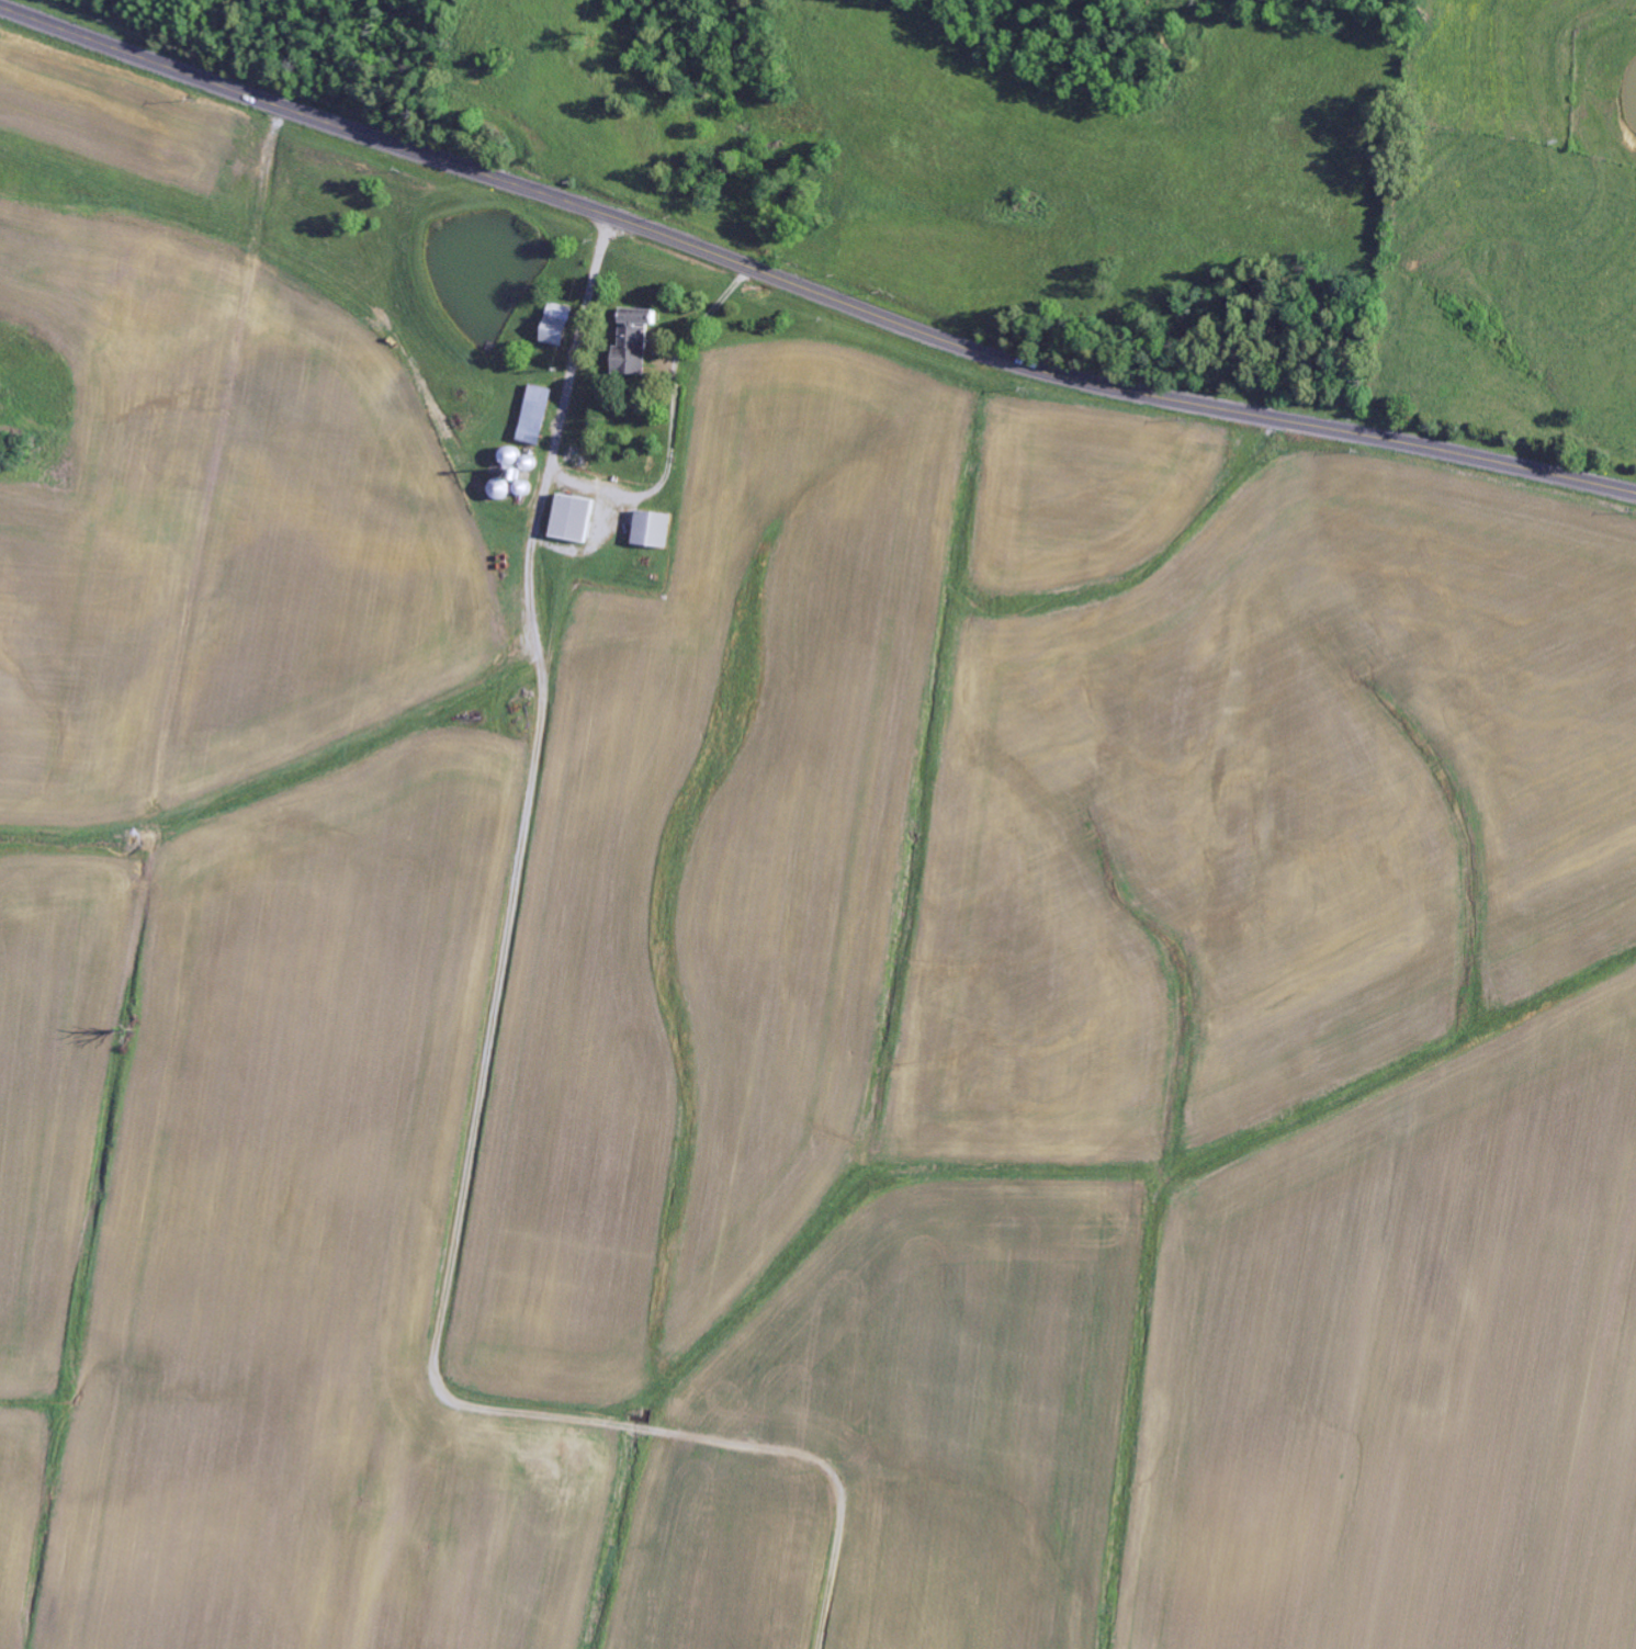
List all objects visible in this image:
road: (806, 291)
building: (533, 415)
building: (571, 520)
building: (651, 531)
road: (481, 1092)

